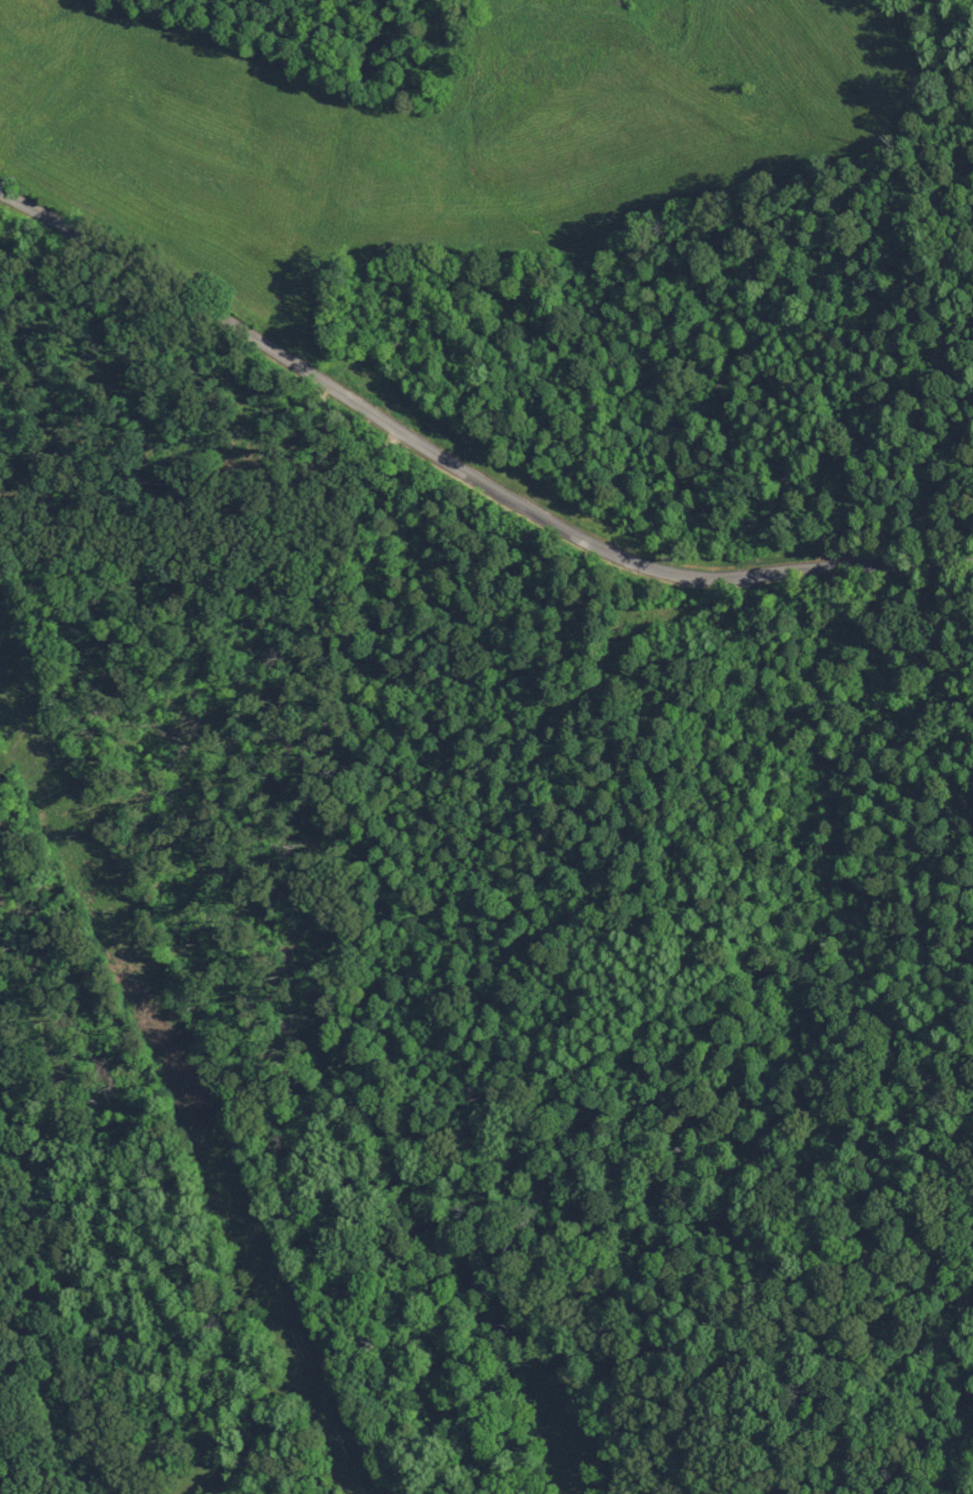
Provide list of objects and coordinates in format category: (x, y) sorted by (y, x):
building: (495, 56)
road: (461, 470)

